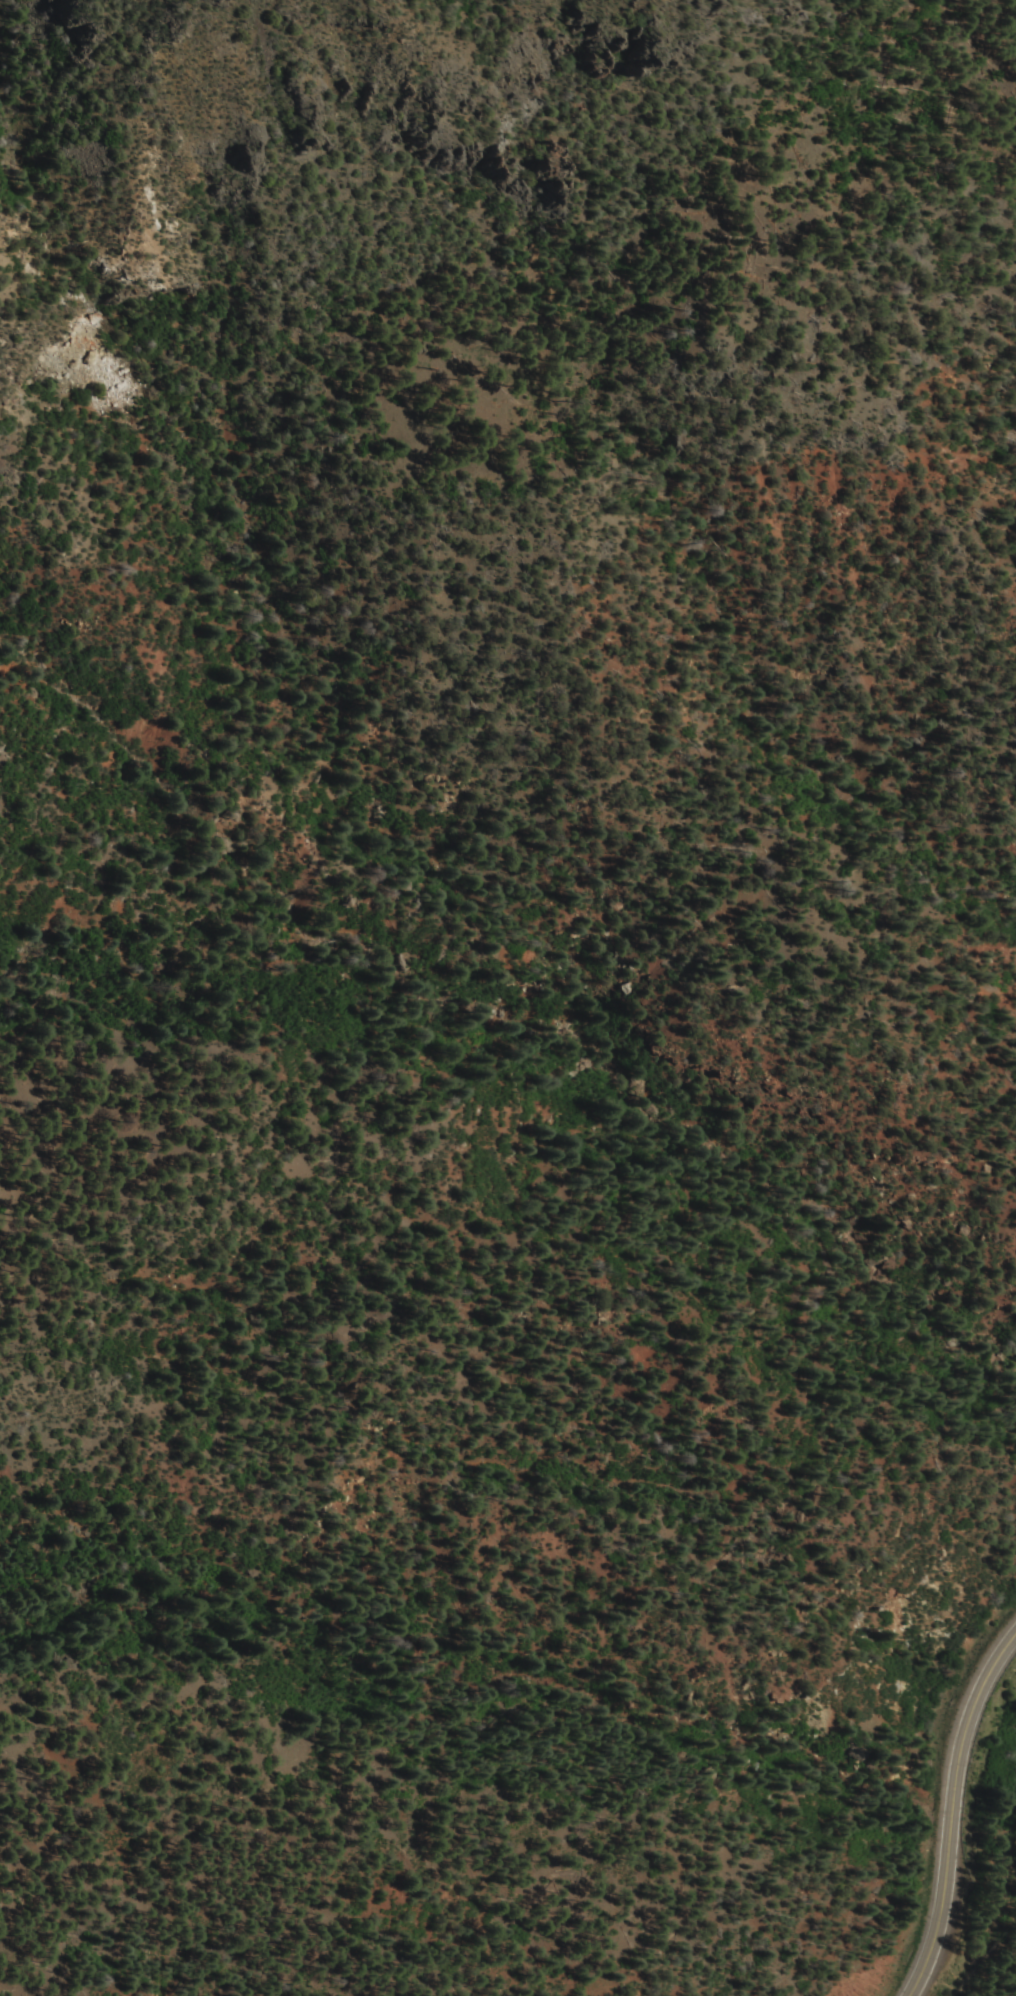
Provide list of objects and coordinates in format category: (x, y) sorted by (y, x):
road: (950, 1807)

